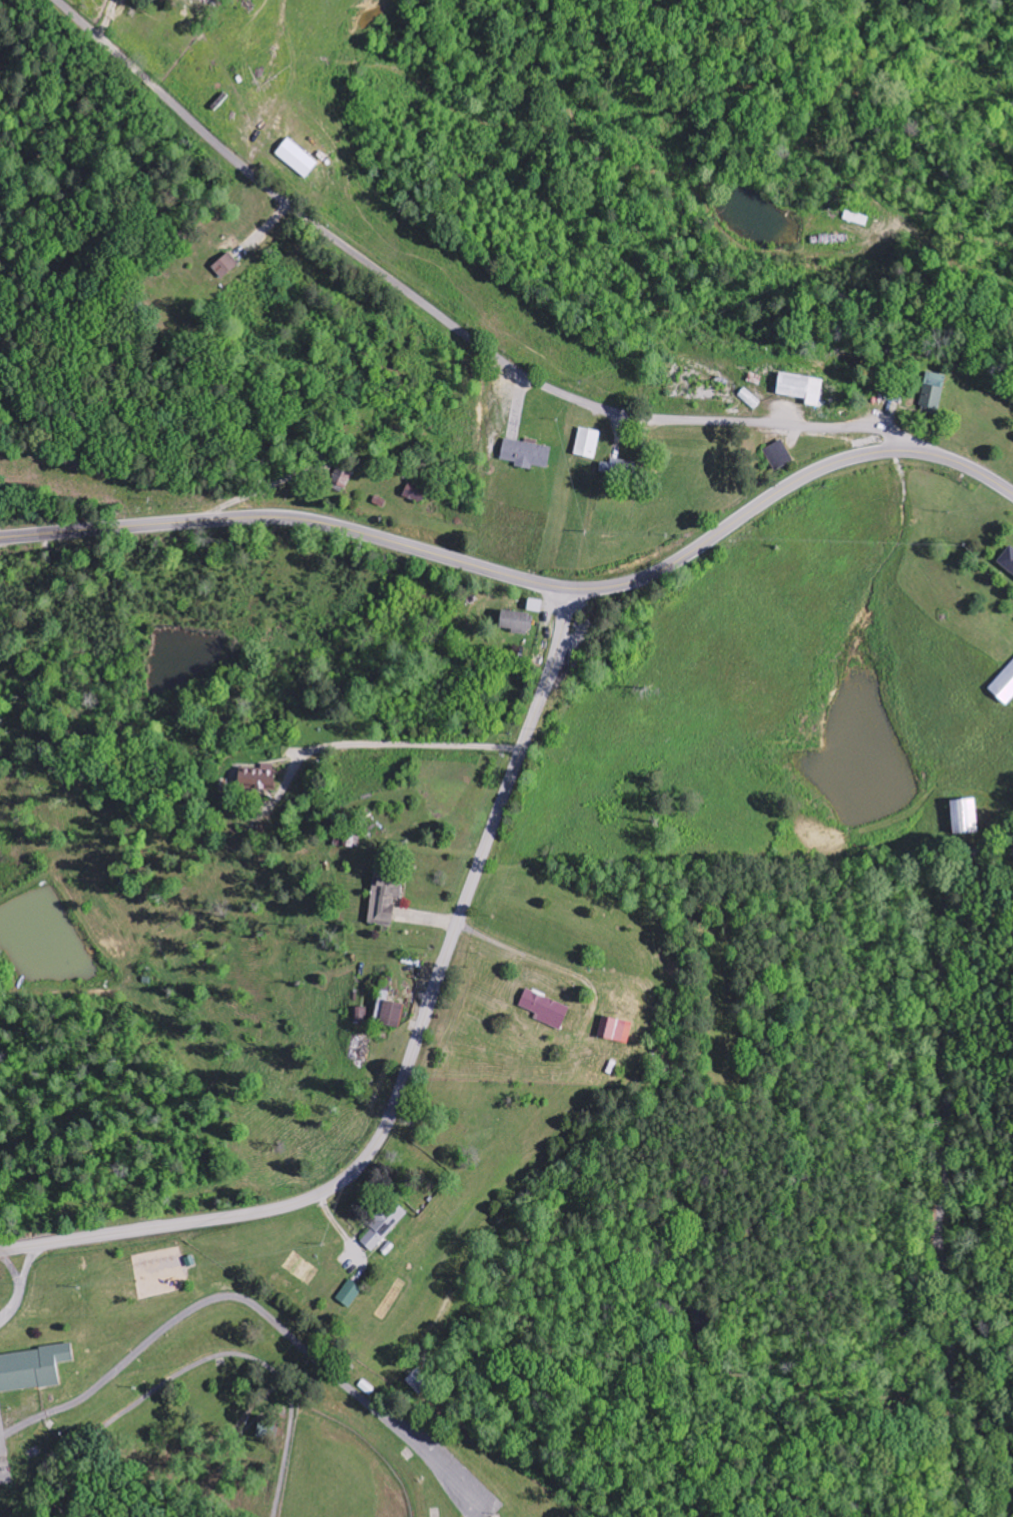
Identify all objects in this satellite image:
building: (195, 0)
building: (207, 1)
building: (299, 159)
building: (227, 267)
road: (443, 318)
building: (804, 390)
building: (934, 393)
building: (588, 444)
building: (529, 455)
building: (620, 468)
building: (416, 493)
building: (1008, 561)
road: (524, 579)
building: (536, 607)
building: (518, 623)
building: (1005, 687)
building: (261, 778)
building: (967, 816)
building: (386, 898)
building: (547, 1010)
building: (394, 1014)
building: (617, 1030)
road: (412, 1057)
road: (944, 1157)
building: (384, 1227)
road: (10, 1268)
road: (20, 1284)
building: (351, 1294)
road: (255, 1305)
road: (200, 1361)
building: (34, 1369)
building: (420, 1382)
park: (219, 1398)
road: (476, 1512)

